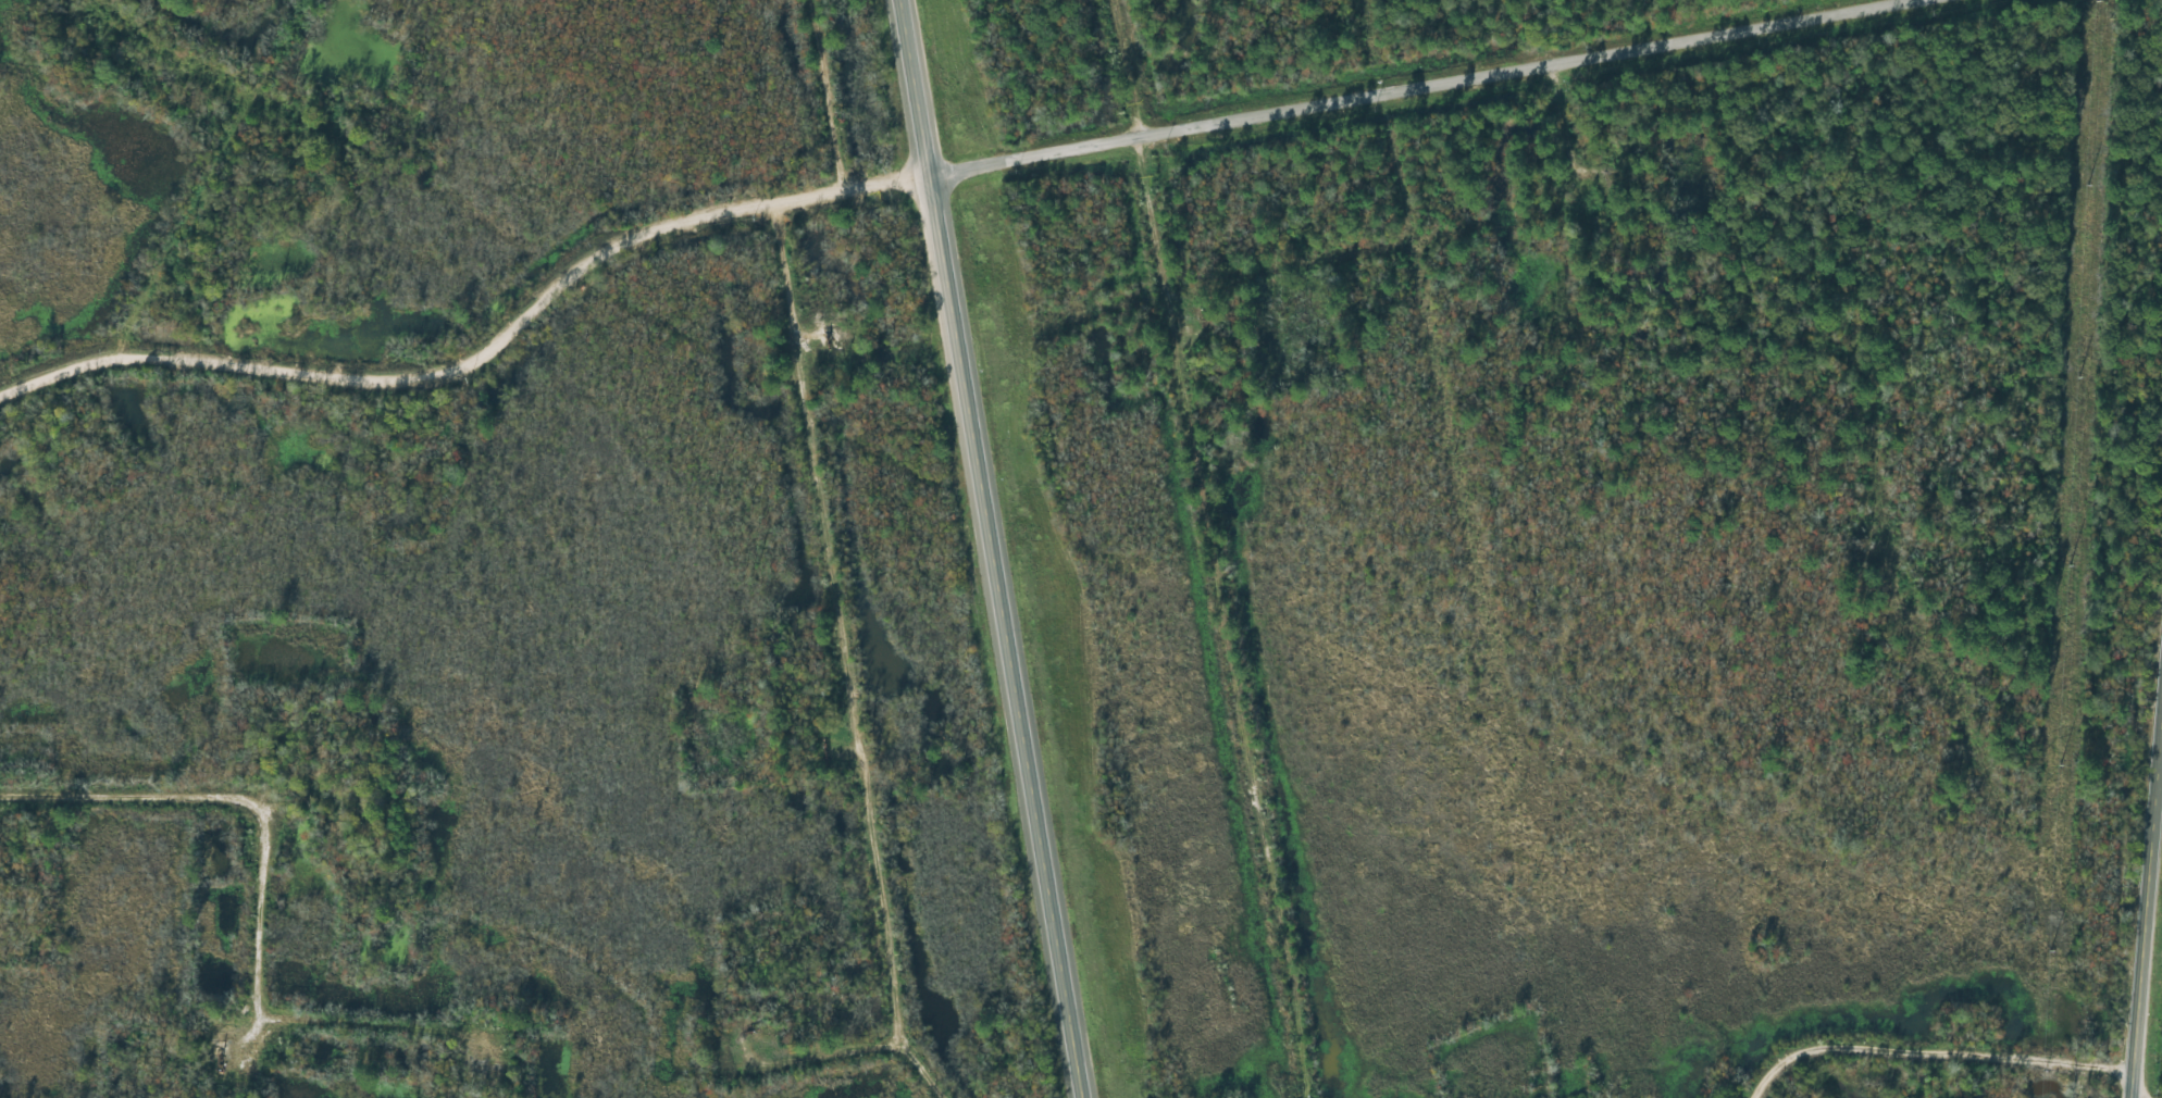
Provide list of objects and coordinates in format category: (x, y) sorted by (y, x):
road: (145, 58)
road: (1414, 80)
road: (1530, 124)
road: (1152, 183)
road: (165, 225)
road: (521, 325)
road: (995, 549)
road: (836, 654)
road: (273, 887)
road: (2145, 893)
road: (1936, 1066)

